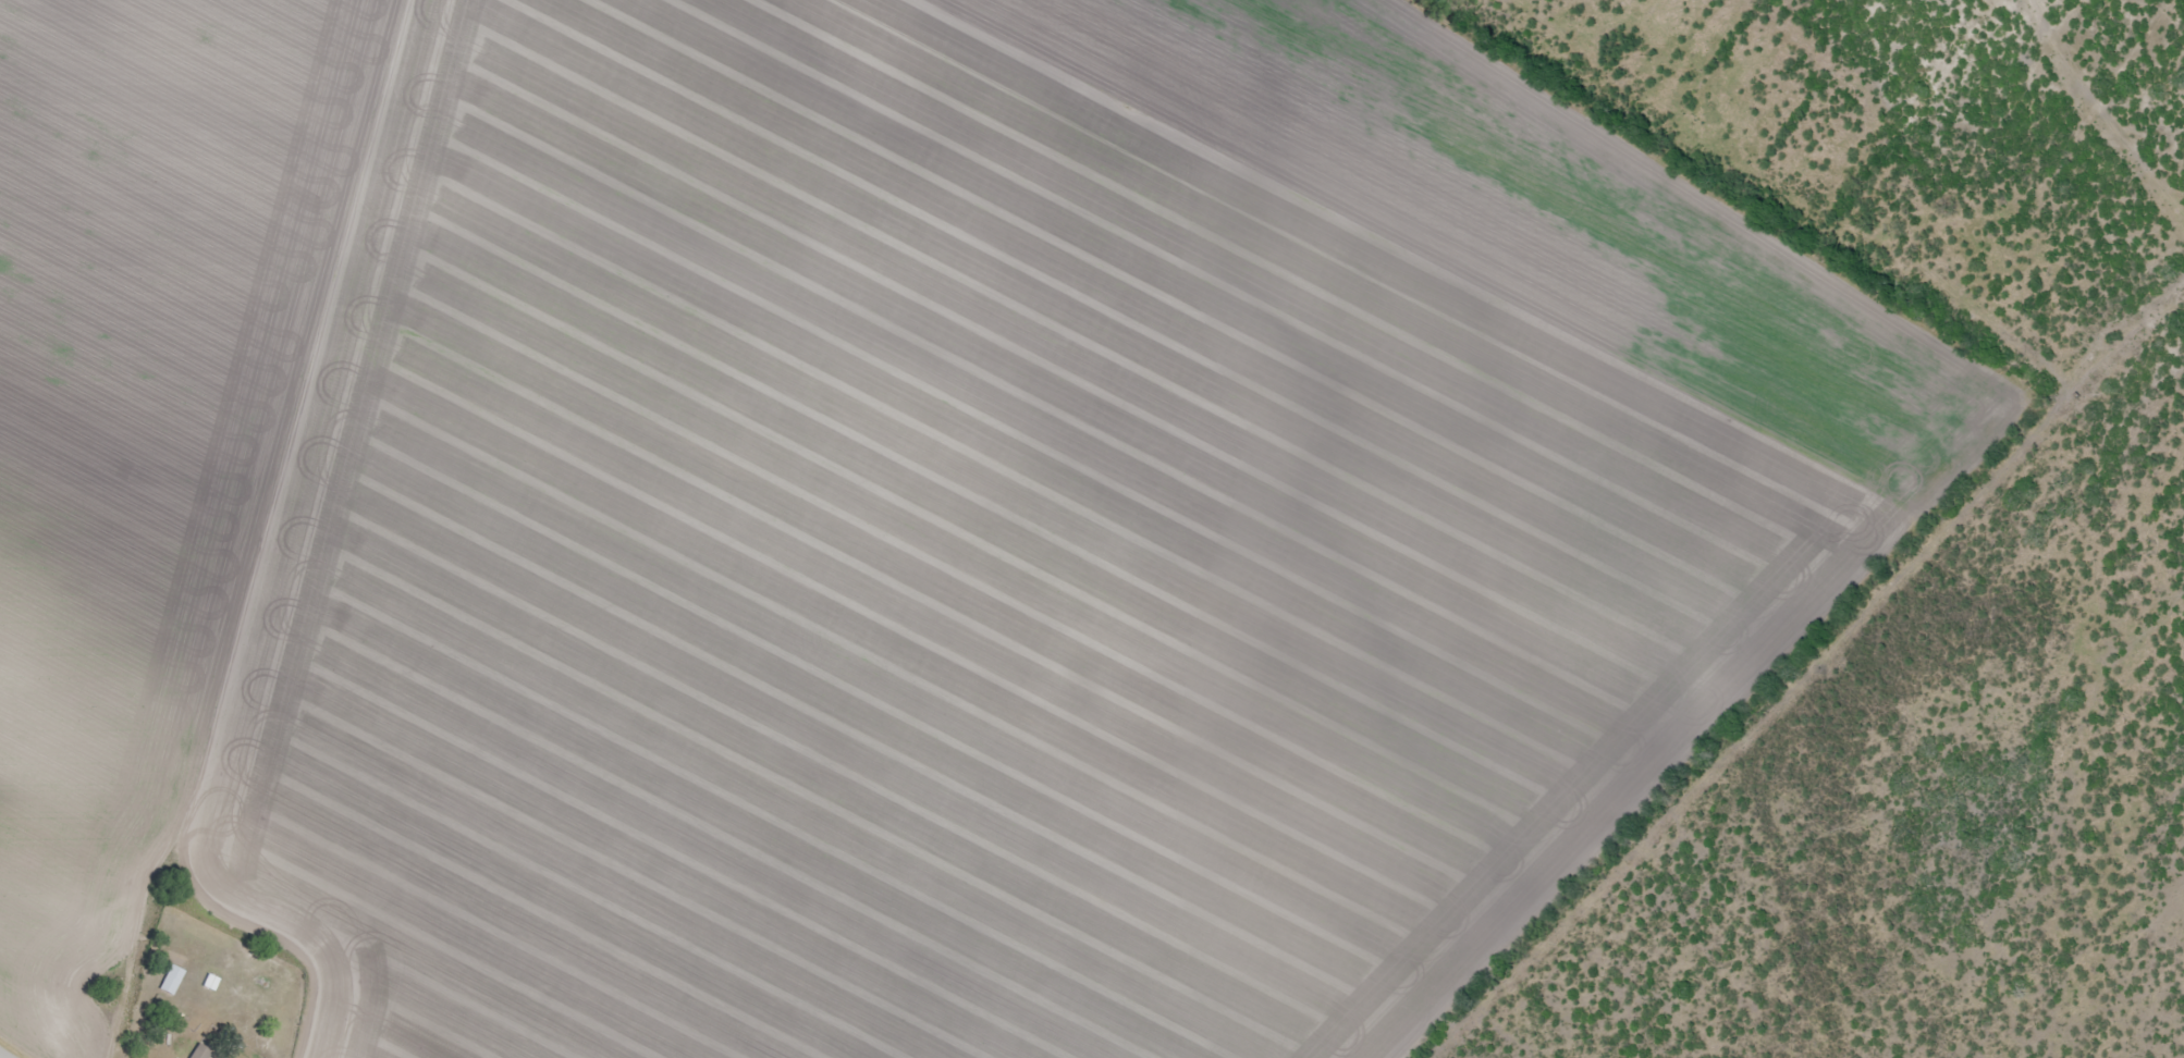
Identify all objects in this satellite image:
building: (172, 981)
road: (11, 1050)
building: (203, 1053)

